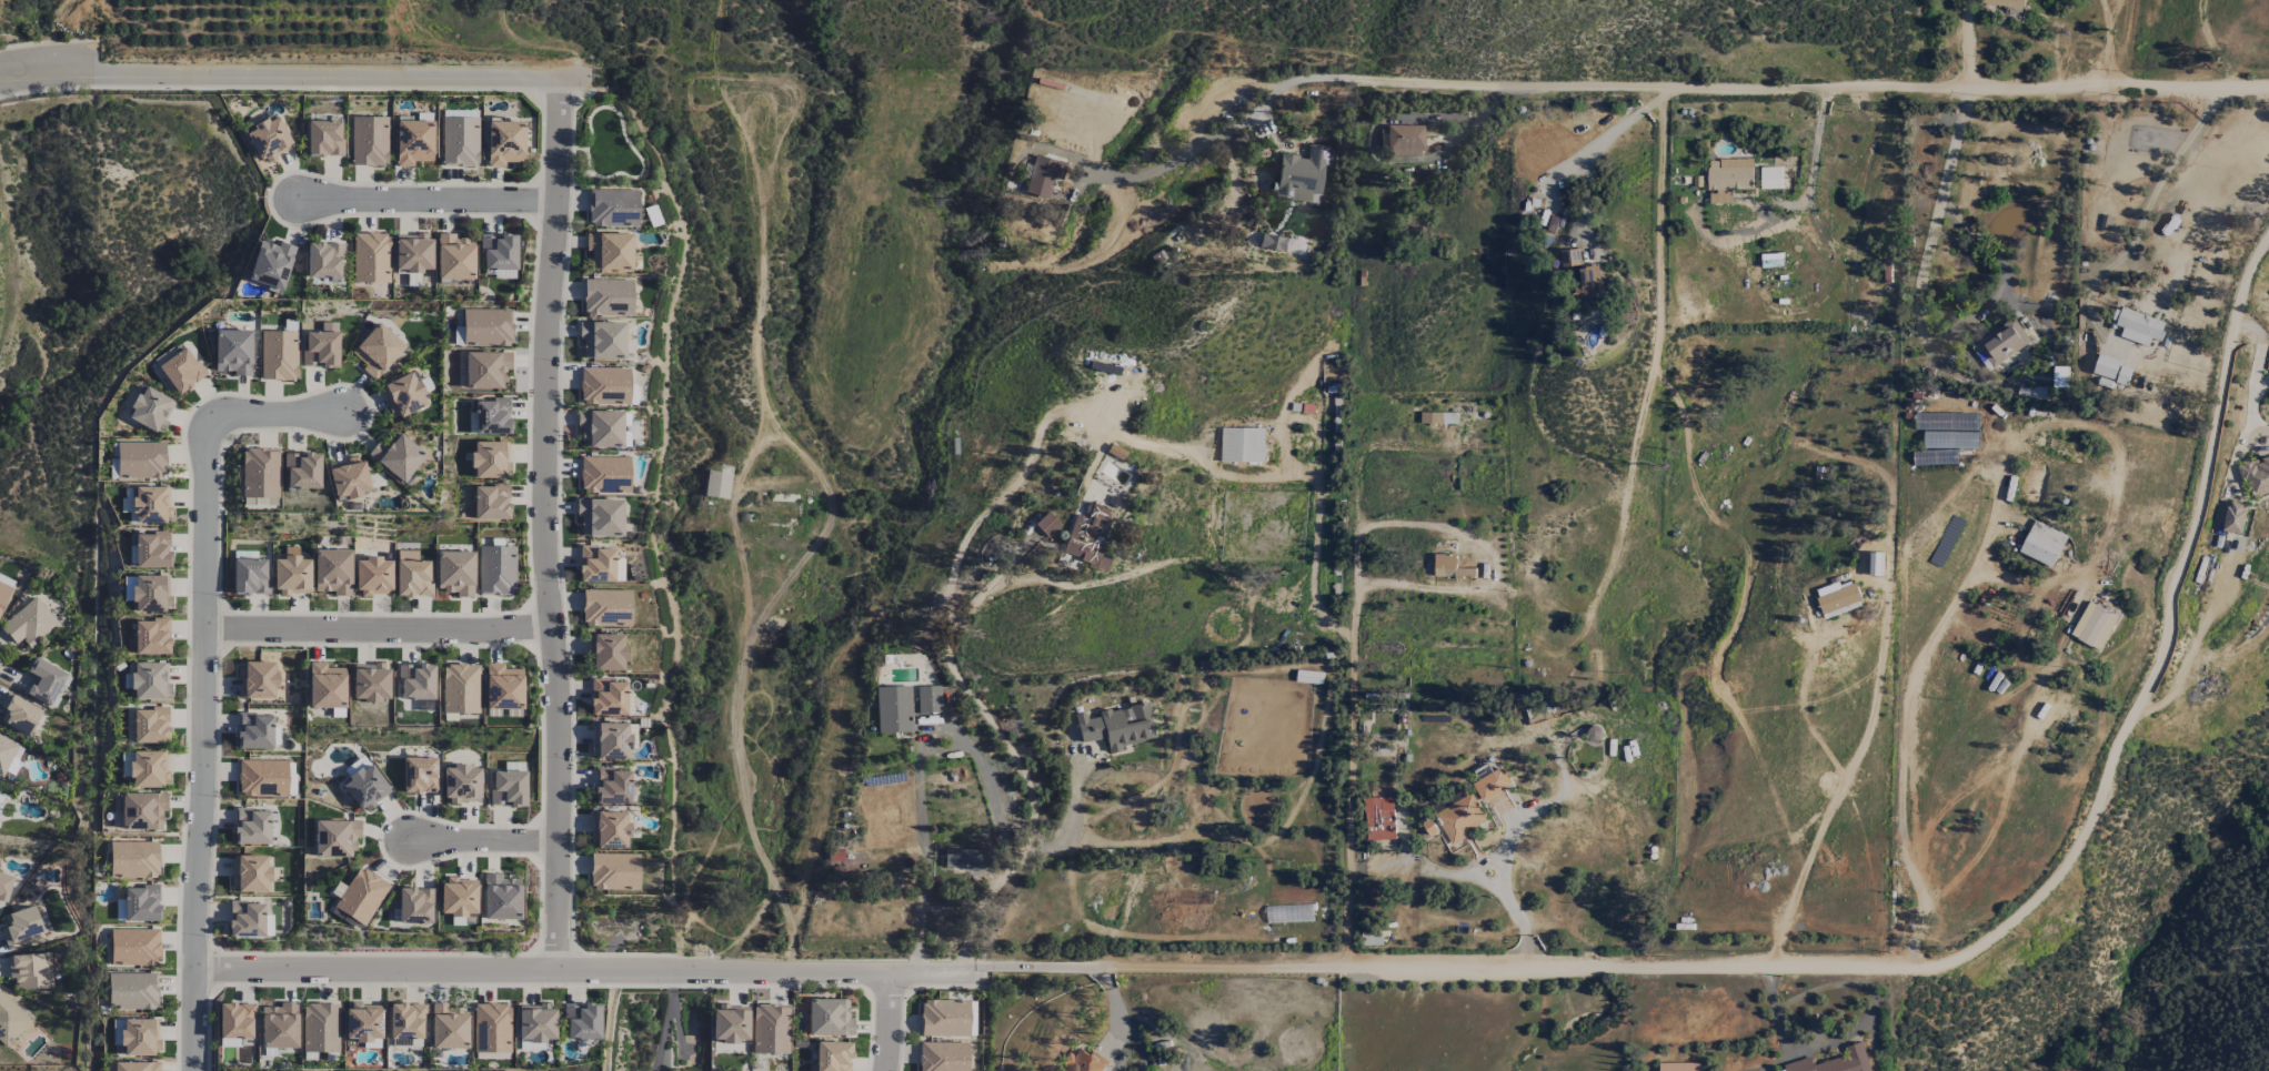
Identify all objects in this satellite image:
building: (2005, 3)
building: (2011, 14)
road: (1970, 43)
road: (280, 74)
road: (1778, 87)
building: (460, 113)
road: (1371, 134)
building: (324, 138)
building: (269, 139)
building: (1404, 139)
building: (370, 141)
building: (460, 141)
building: (413, 142)
building: (504, 142)
park: (609, 145)
road: (1595, 150)
building: (1301, 174)
building: (1043, 175)
building: (1770, 178)
building: (1727, 179)
road: (431, 202)
building: (613, 208)
building: (1273, 242)
building: (498, 251)
building: (610, 251)
building: (413, 253)
building: (454, 256)
building: (371, 257)
building: (1570, 259)
building: (323, 260)
building: (271, 264)
building: (1588, 286)
building: (608, 296)
road: (1918, 312)
building: (488, 326)
building: (2137, 326)
building: (602, 340)
building: (2002, 343)
building: (321, 346)
building: (378, 350)
building: (233, 351)
building: (279, 355)
road: (1651, 361)
building: (486, 370)
building: (181, 371)
road: (2257, 373)
building: (604, 385)
building: (403, 394)
building: (150, 410)
road: (1057, 411)
building: (492, 416)
building: (601, 428)
building: (1950, 441)
building: (1242, 445)
building: (398, 455)
building: (141, 459)
building: (490, 459)
building: (302, 471)
building: (260, 473)
building: (604, 474)
building: (2257, 476)
building: (348, 478)
building: (717, 484)
building: (126, 499)
building: (491, 502)
building: (150, 504)
building: (600, 516)
building: (2233, 517)
road: (1379, 523)
road: (546, 525)
building: (1088, 536)
building: (2041, 544)
building: (152, 549)
building: (1875, 564)
building: (595, 565)
building: (1449, 567)
building: (496, 569)
building: (333, 572)
building: (454, 572)
building: (292, 573)
building: (412, 574)
building: (250, 576)
building: (373, 576)
building: (4, 589)
building: (149, 593)
building: (1838, 599)
road: (1354, 604)
building: (606, 607)
building: (29, 623)
building: (2094, 626)
road: (379, 632)
building: (151, 636)
building: (608, 651)
building: (150, 679)
building: (257, 679)
building: (43, 680)
building: (370, 681)
building: (416, 681)
road: (204, 683)
building: (325, 686)
building: (503, 687)
building: (460, 688)
building: (608, 697)
building: (928, 699)
building: (894, 709)
building: (18, 714)
road: (1906, 714)
building: (150, 725)
building: (1117, 726)
building: (254, 730)
road: (950, 731)
building: (610, 740)
building: (6, 751)
building: (148, 768)
building: (420, 775)
building: (262, 778)
building: (462, 784)
building: (1492, 785)
building: (612, 786)
building: (365, 787)
building: (509, 788)
road: (1348, 796)
building: (142, 810)
building: (1379, 819)
building: (1460, 819)
road: (1070, 824)
building: (251, 827)
building: (609, 829)
building: (335, 838)
road: (483, 841)
building: (962, 858)
building: (133, 859)
building: (614, 871)
building: (250, 872)
building: (4, 886)
building: (361, 896)
road: (2035, 896)
building: (458, 897)
building: (501, 897)
building: (141, 903)
building: (415, 905)
building: (245, 919)
building: (21, 927)
building: (134, 947)
road: (1121, 968)
building: (30, 970)
road: (544, 971)
building: (132, 990)
building: (830, 1018)
building: (944, 1018)
road: (1120, 1019)
building: (10, 1020)
building: (235, 1020)
building: (582, 1021)
building: (535, 1022)
road: (890, 1022)
building: (363, 1023)
building: (730, 1023)
building: (406, 1024)
building: (279, 1025)
building: (320, 1027)
building: (449, 1027)
building: (492, 1028)
building: (771, 1028)
building: (140, 1037)
building: (230, 1042)
building: (833, 1055)
building: (943, 1057)
building: (1084, 1061)
building: (1836, 1062)
building: (137, 1065)
building: (1678, 1067)

